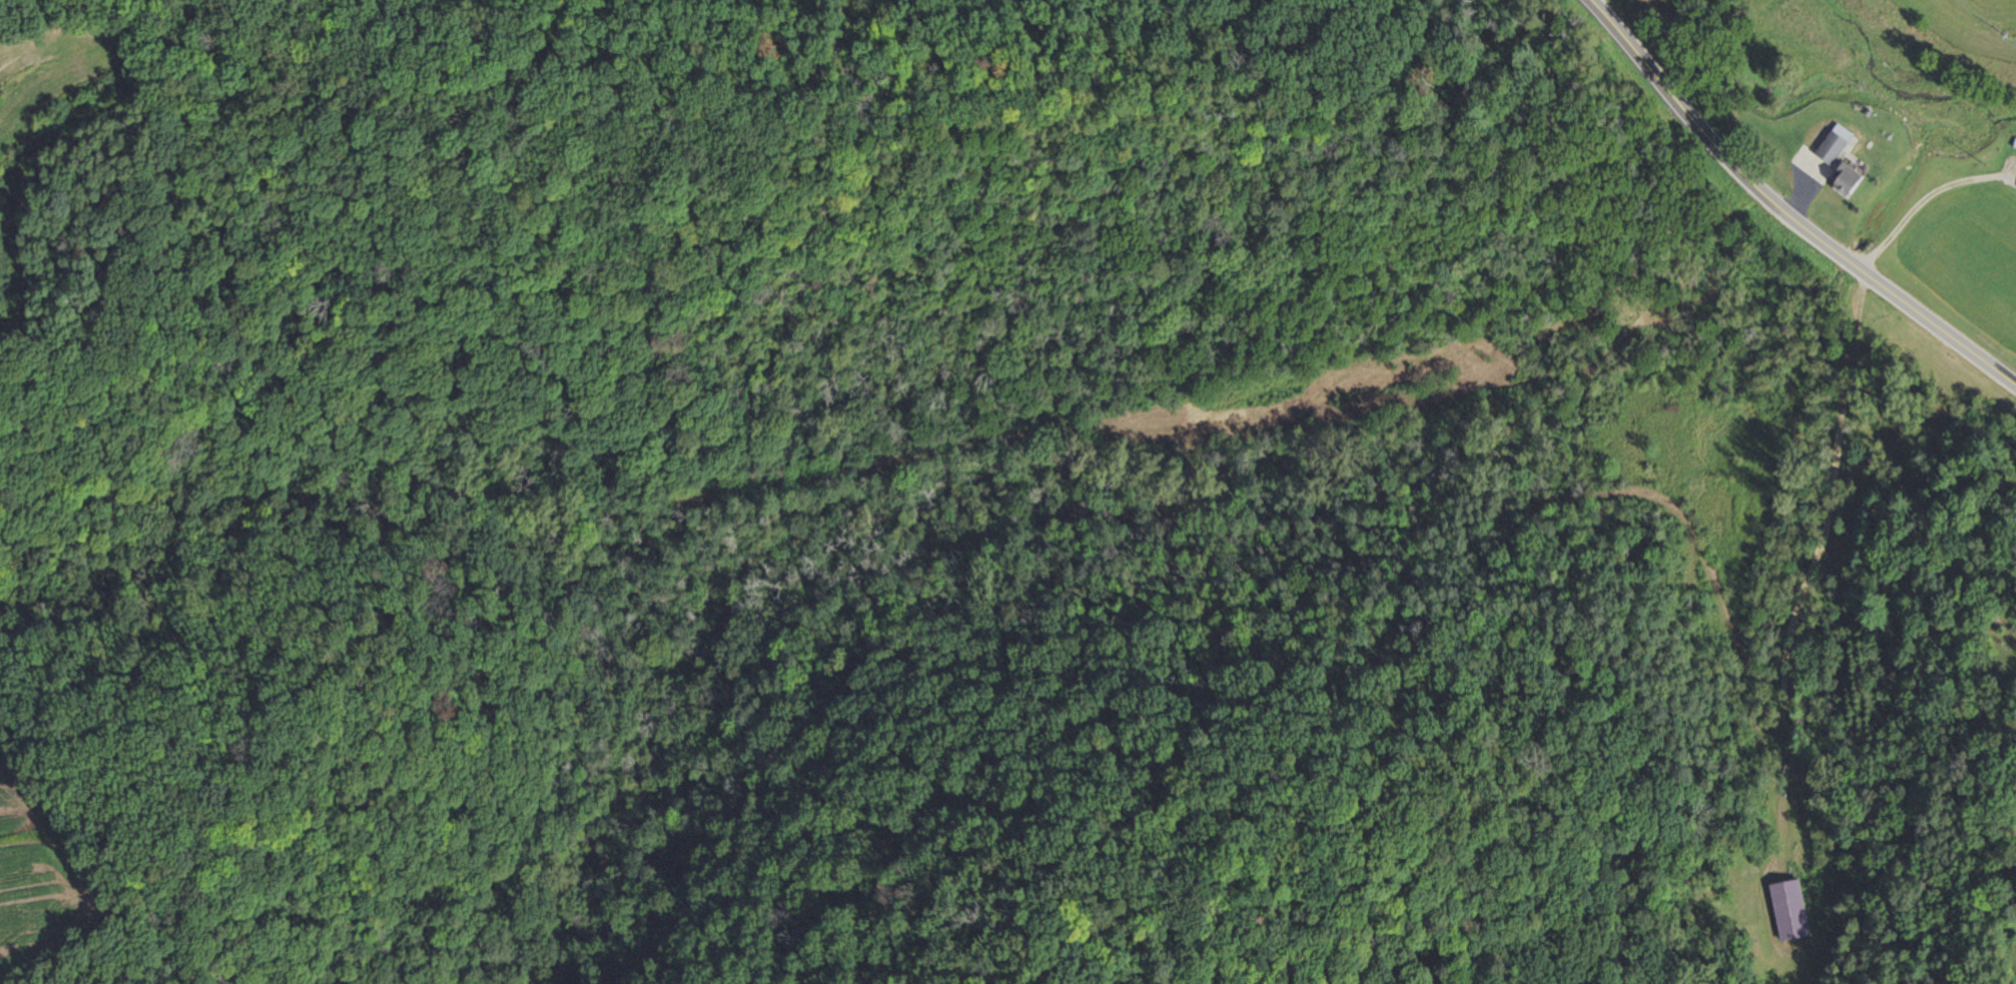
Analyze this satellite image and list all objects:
building: (1832, 145)
building: (1842, 181)
road: (1918, 205)
road: (1784, 215)
building: (1792, 910)

